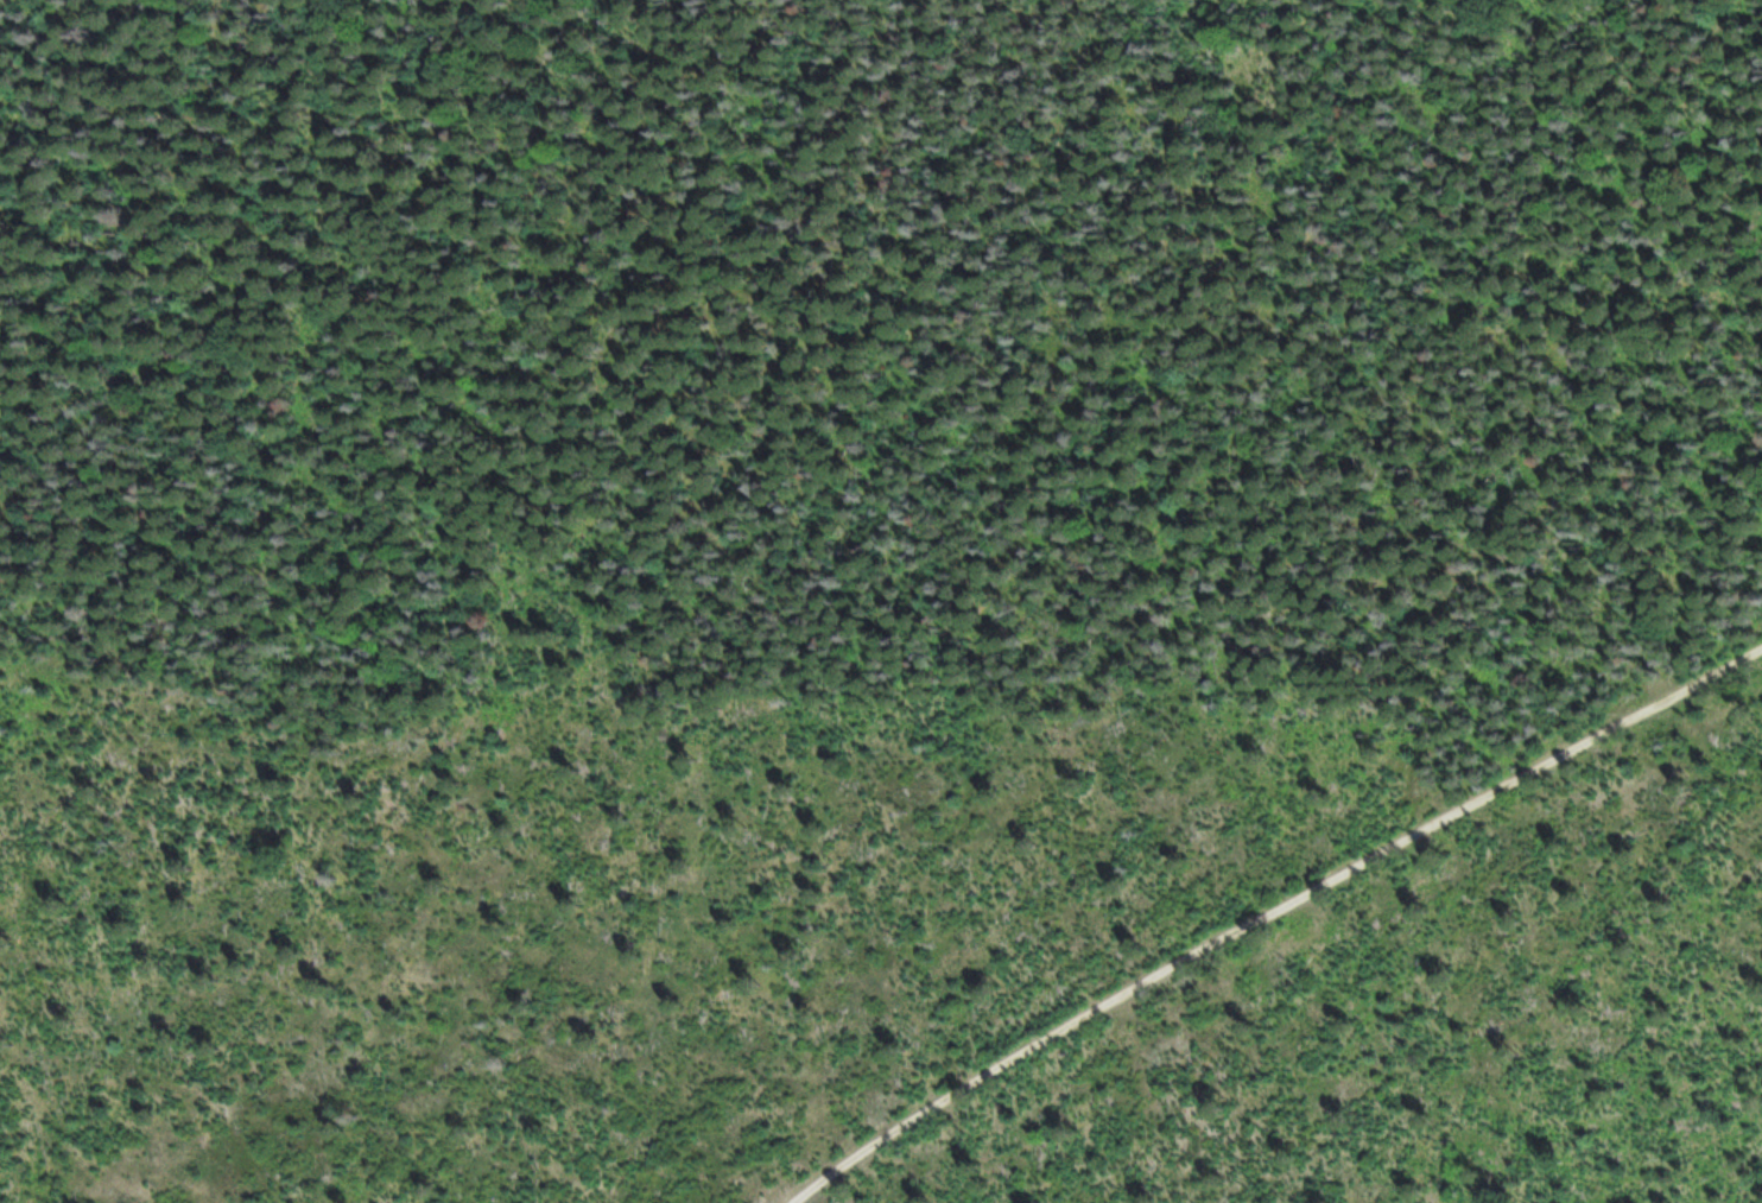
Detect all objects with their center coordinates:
road: (1273, 918)

